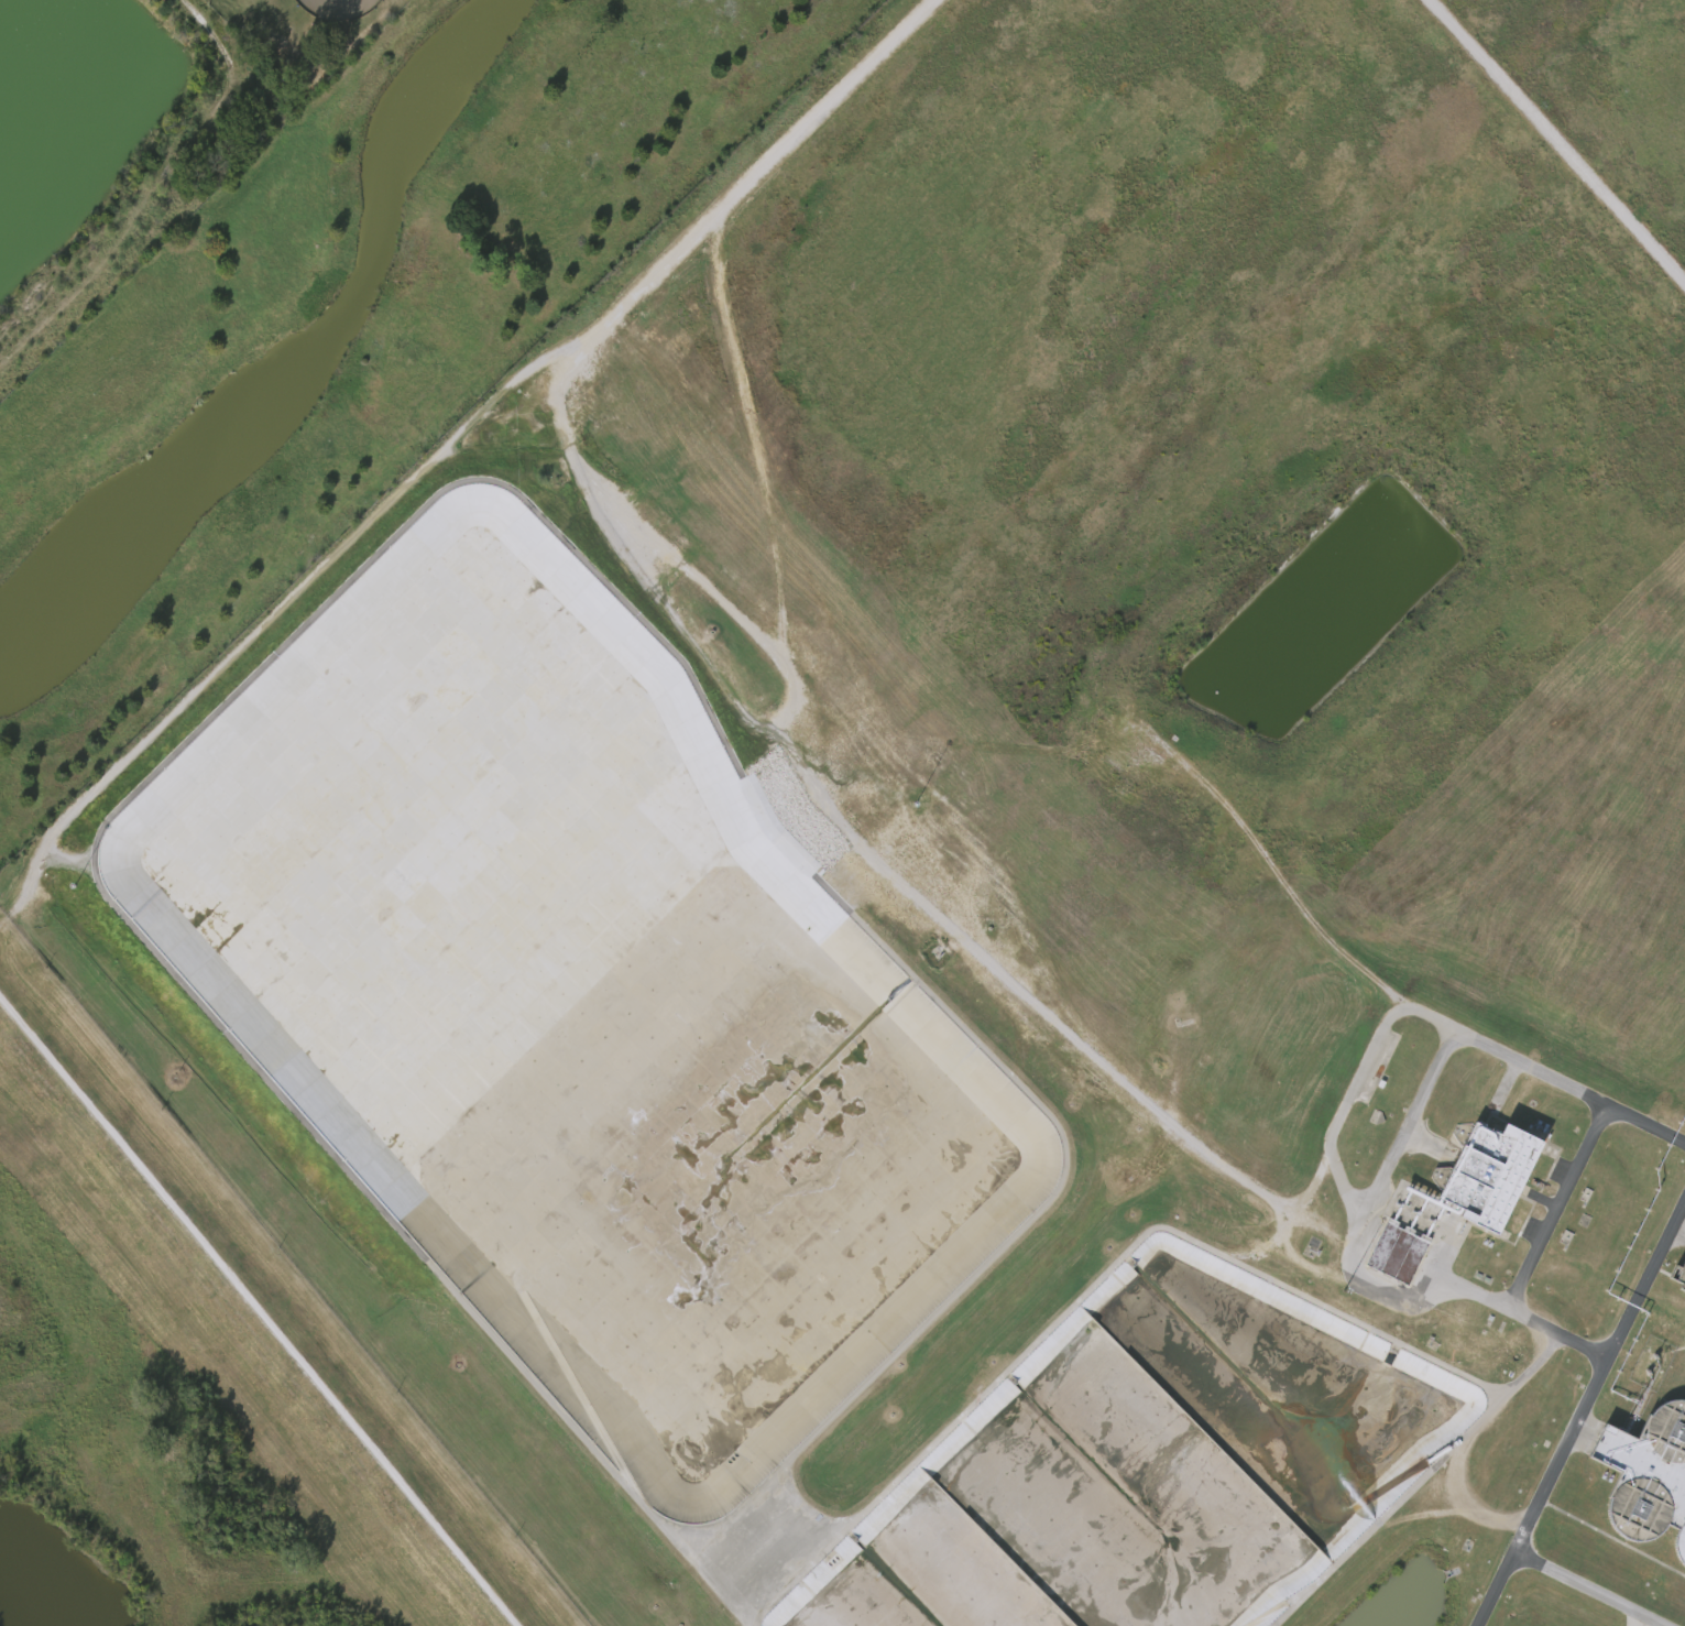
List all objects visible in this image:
road: (1555, 142)
road: (453, 461)
wastewater plant: (895, 807)
building: (1490, 1172)
road: (1546, 1219)
building: (1681, 1275)
road: (1474, 1292)
road: (259, 1307)
road: (1563, 1451)
building: (1649, 1475)
road: (1416, 1482)
road: (1495, 1589)
road: (1639, 1620)

